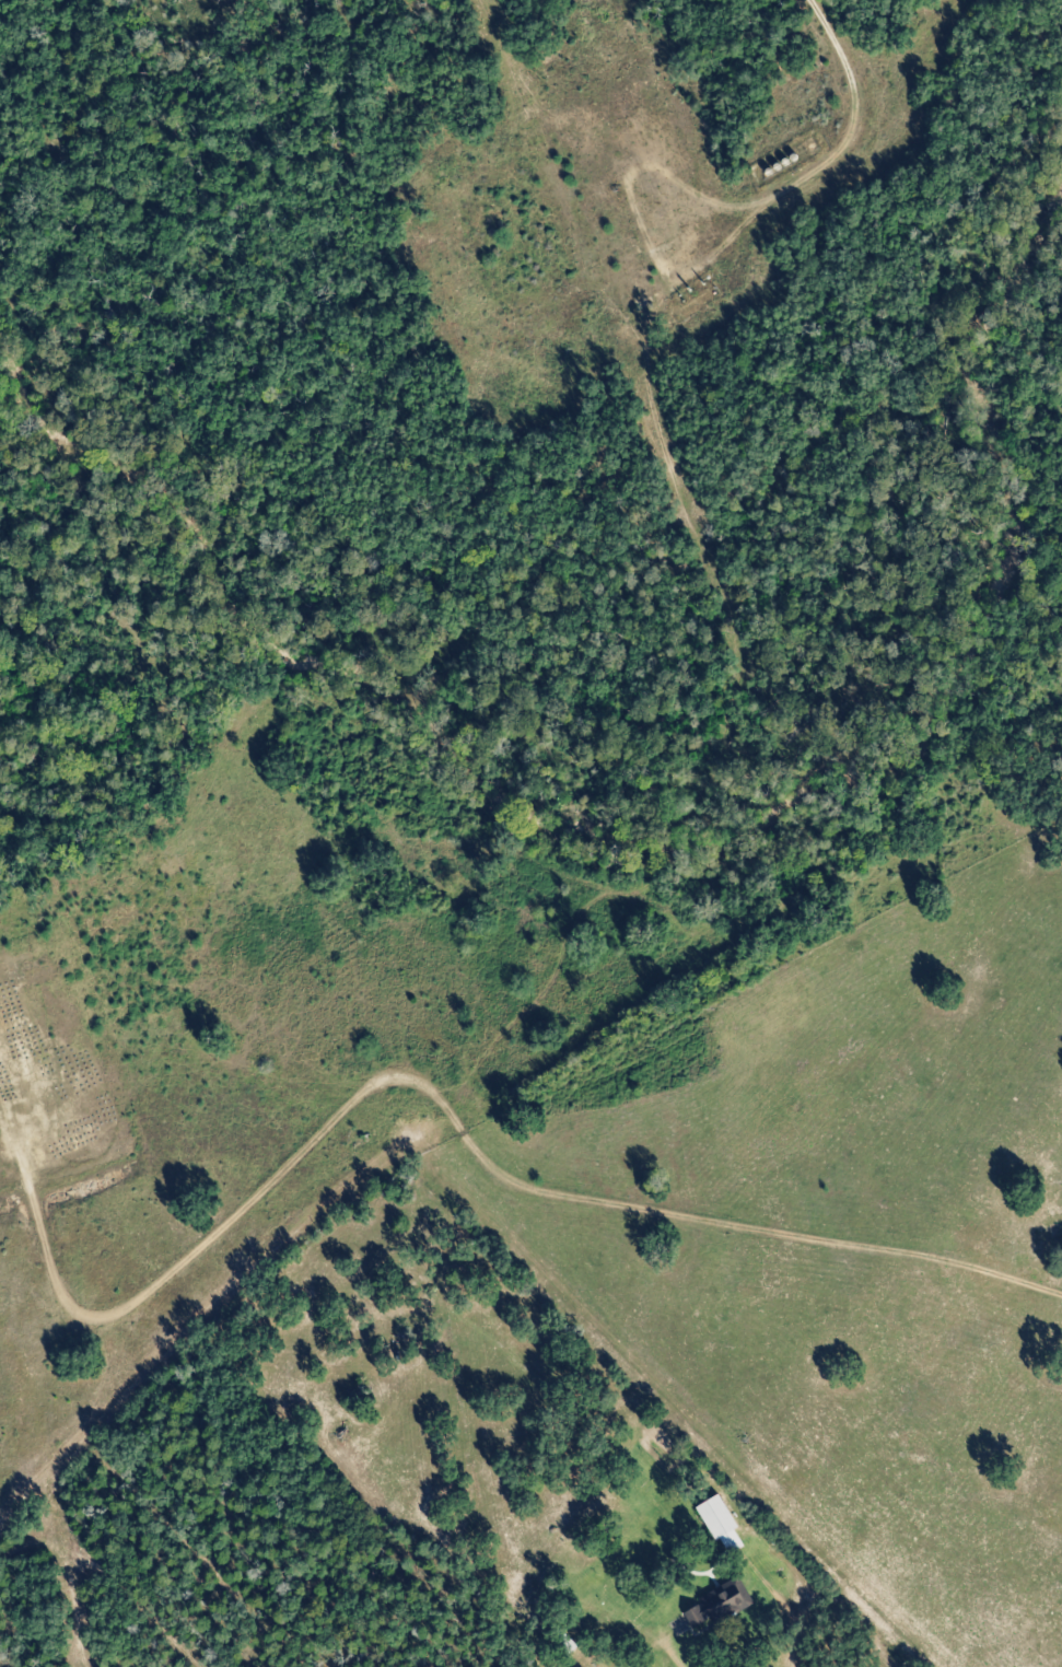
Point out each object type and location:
building: (721, 1523)
building: (717, 1606)

